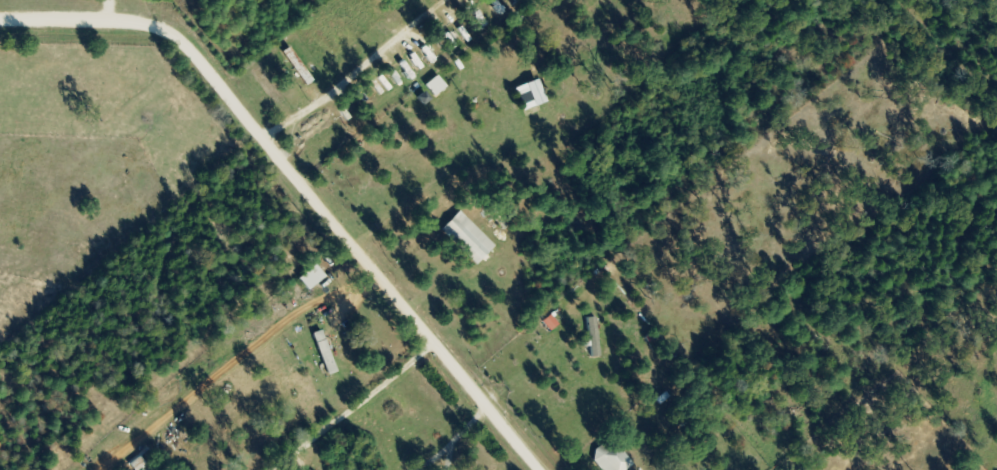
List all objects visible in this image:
building: (381, 7)
building: (455, 17)
building: (343, 31)
building: (323, 46)
building: (420, 50)
building: (294, 68)
road: (352, 69)
building: (267, 89)
building: (368, 96)
building: (318, 127)
road: (301, 184)
building: (466, 237)
building: (310, 277)
building: (609, 457)

